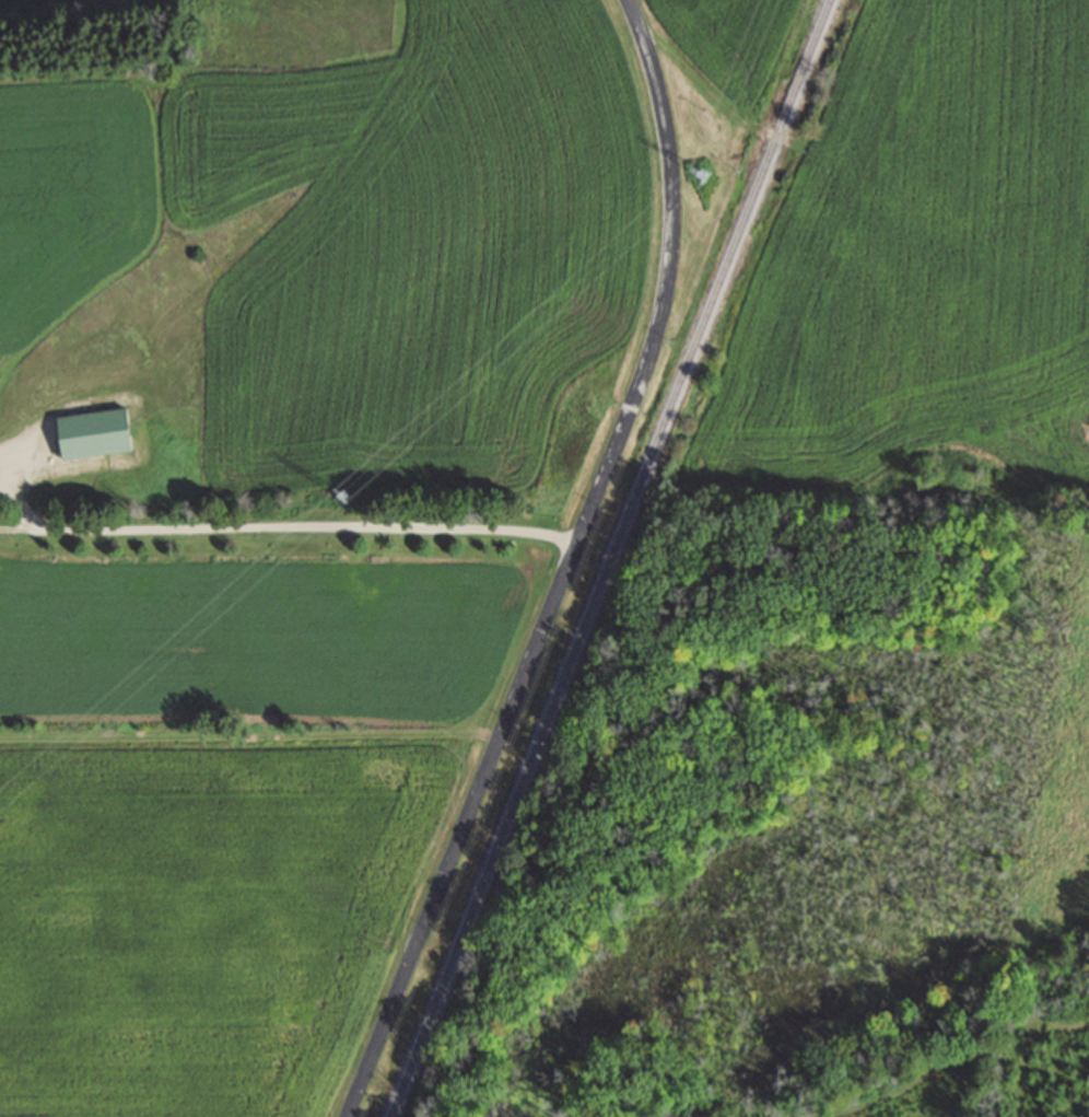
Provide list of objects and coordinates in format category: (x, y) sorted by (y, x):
road: (272, 523)
railway: (608, 557)
road: (565, 567)

